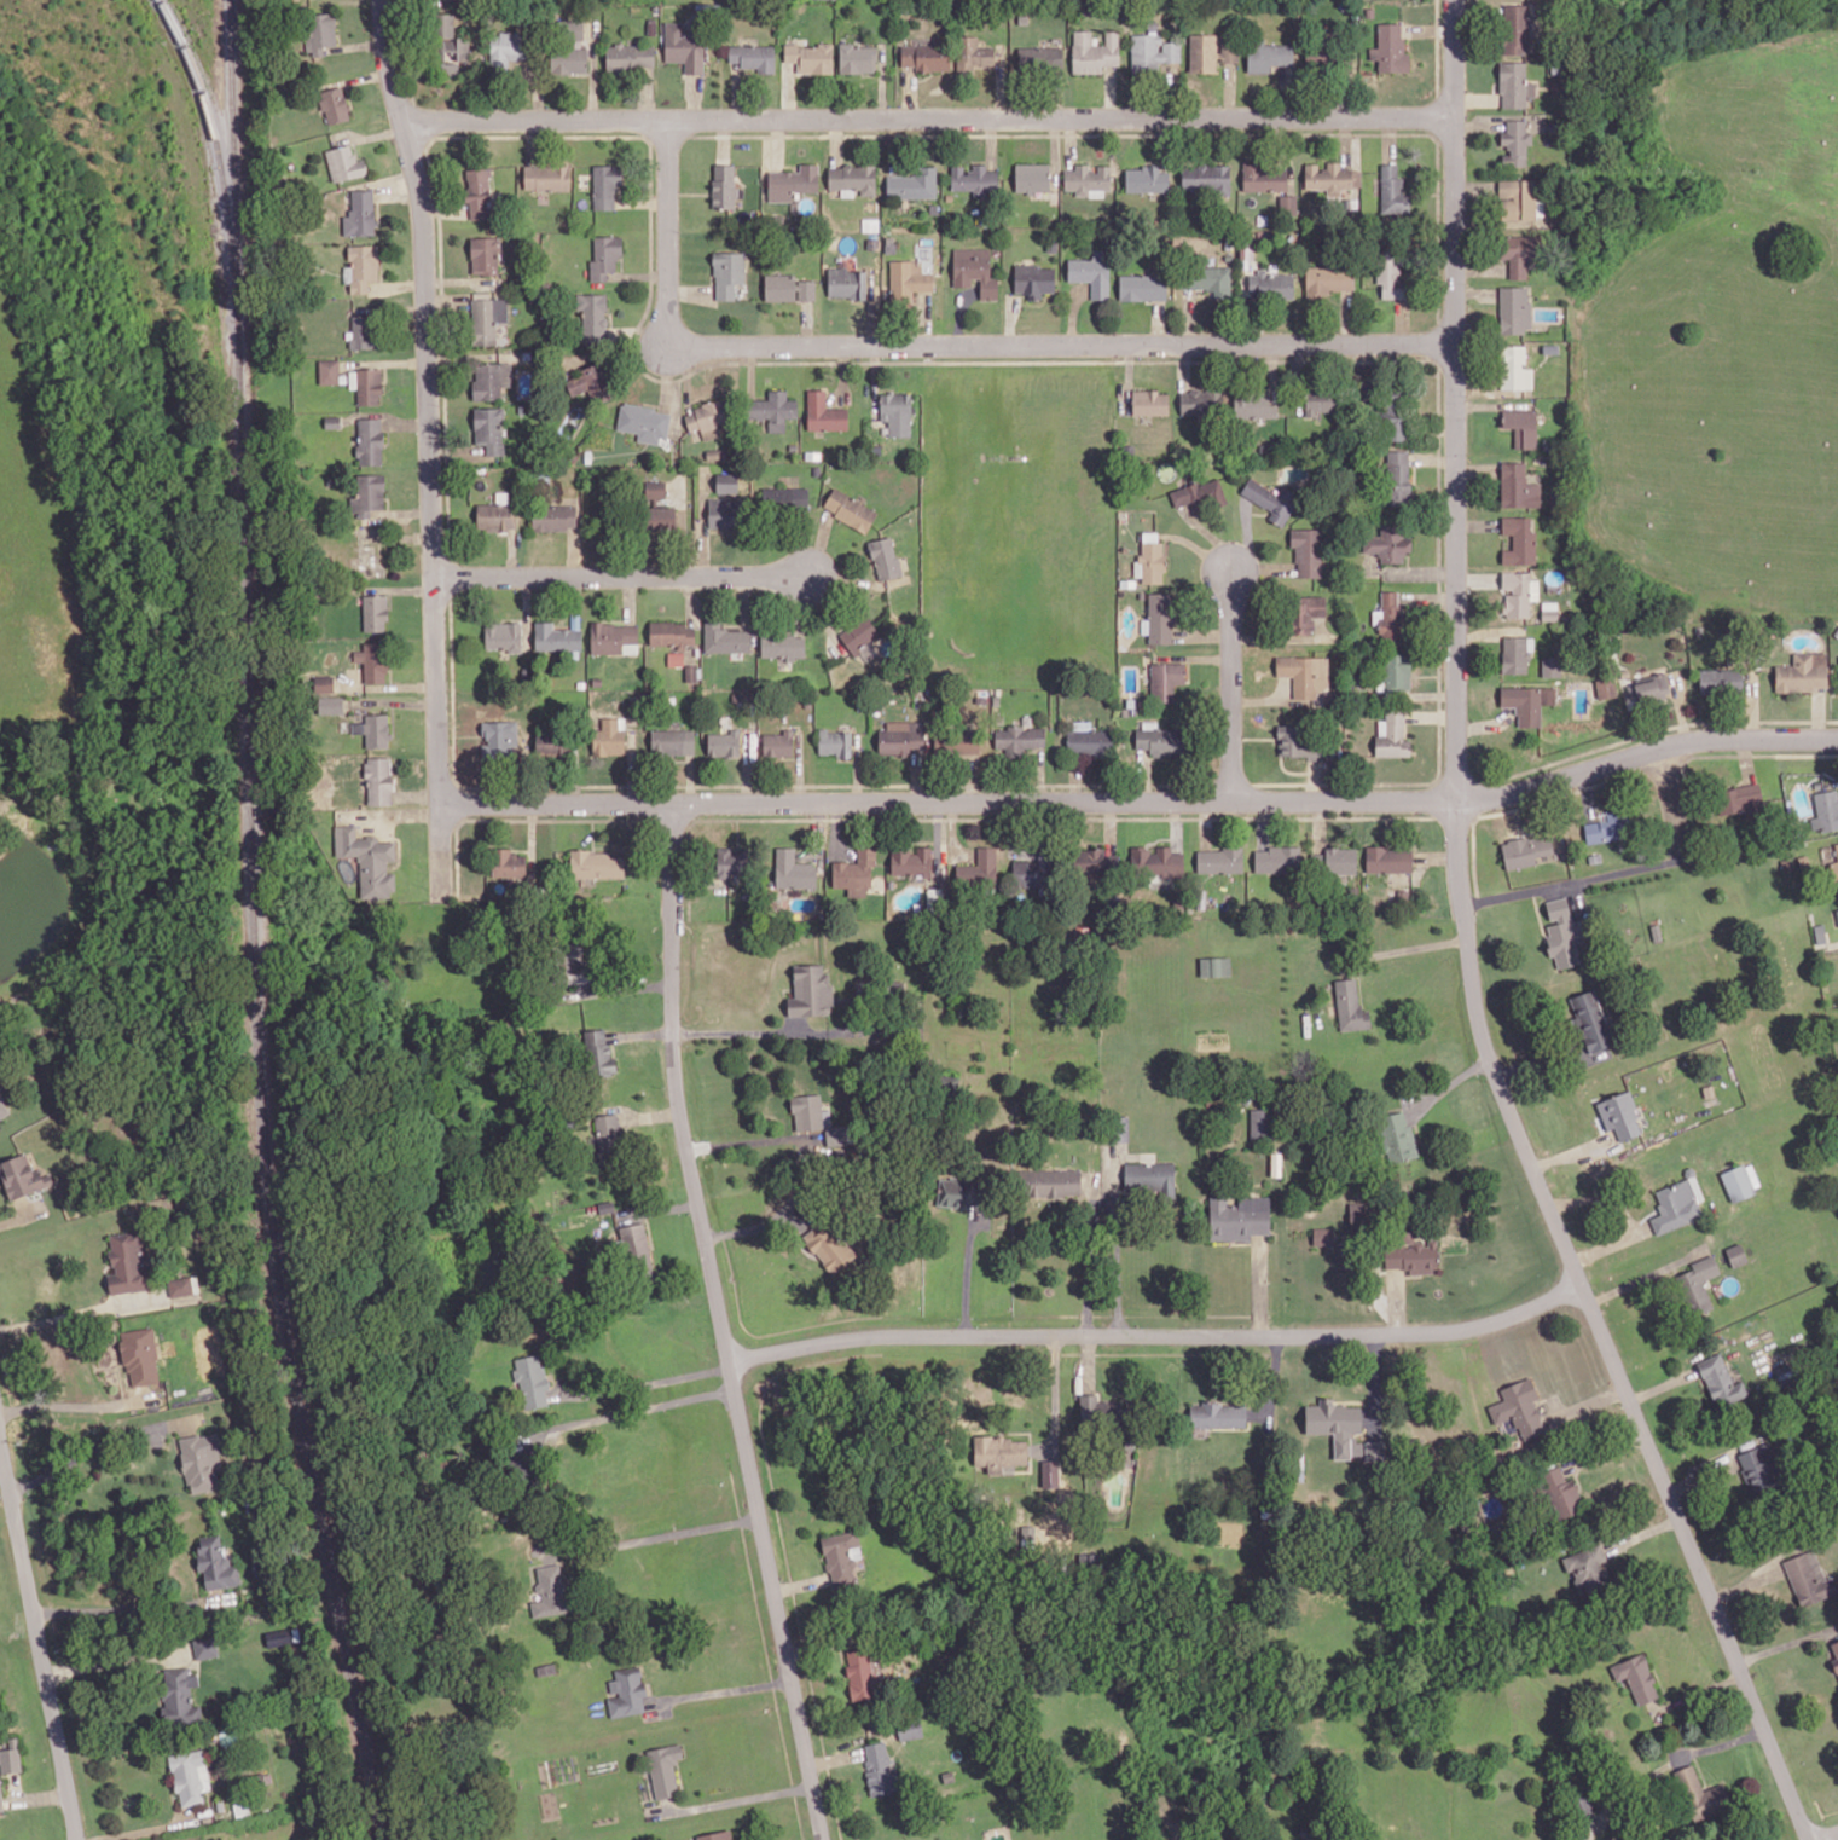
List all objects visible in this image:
building: (1515, 28)
building: (572, 29)
building: (320, 31)
building: (448, 44)
building: (684, 47)
building: (506, 48)
building: (1390, 48)
building: (973, 52)
building: (1094, 52)
building: (1152, 52)
building: (1202, 53)
building: (1229, 53)
building: (630, 57)
building: (754, 57)
building: (810, 57)
building: (926, 57)
building: (1269, 57)
building: (857, 58)
building: (1040, 58)
building: (569, 60)
building: (1514, 85)
building: (334, 105)
road: (928, 118)
building: (1515, 141)
railway: (219, 152)
building: (344, 163)
building: (546, 177)
building: (1032, 177)
building: (1205, 177)
building: (1264, 177)
building: (853, 178)
building: (974, 179)
building: (1147, 179)
building: (1332, 179)
building: (1086, 180)
building: (792, 181)
building: (912, 184)
building: (605, 185)
building: (724, 185)
building: (1393, 190)
building: (477, 192)
building: (1517, 198)
building: (1288, 204)
building: (360, 213)
building: (1519, 253)
building: (485, 255)
building: (604, 256)
building: (361, 267)
building: (974, 270)
building: (1092, 272)
building: (727, 273)
building: (1390, 274)
building: (908, 279)
building: (1033, 279)
building: (1328, 279)
building: (1211, 280)
building: (847, 283)
building: (1271, 285)
building: (1142, 287)
building: (788, 288)
building: (1514, 309)
building: (592, 317)
building: (487, 319)
building: (363, 330)
road: (952, 346)
building: (1514, 368)
building: (329, 371)
building: (491, 380)
building: (591, 383)
building: (366, 384)
building: (1201, 401)
building: (1320, 401)
building: (1150, 403)
building: (1254, 404)
building: (773, 409)
building: (897, 412)
building: (1395, 412)
building: (824, 413)
building: (708, 418)
building: (332, 421)
building: (644, 422)
building: (1521, 427)
building: (489, 429)
building: (370, 440)
road: (429, 447)
building: (1398, 476)
building: (726, 482)
building: (1518, 486)
building: (655, 488)
building: (369, 494)
building: (1199, 496)
building: (784, 498)
building: (1271, 499)
park: (1014, 505)
building: (850, 509)
building: (723, 513)
building: (494, 516)
building: (553, 517)
building: (661, 517)
building: (1519, 540)
building: (1388, 542)
building: (1306, 550)
building: (885, 557)
building: (1150, 559)
road: (621, 577)
building: (1518, 592)
building: (375, 612)
building: (1549, 612)
building: (1304, 613)
building: (1390, 617)
building: (1159, 618)
building: (672, 632)
building: (859, 635)
building: (503, 636)
building: (556, 637)
building: (614, 638)
building: (725, 638)
building: (783, 646)
building: (1515, 653)
building: (674, 658)
building: (372, 661)
building: (1552, 666)
building: (1396, 671)
building: (1803, 672)
building: (1304, 673)
building: (1165, 679)
building: (1721, 679)
building: (324, 683)
road: (1234, 684)
building: (1605, 687)
building: (1651, 688)
building: (1527, 701)
building: (330, 705)
building: (373, 729)
building: (503, 735)
building: (1392, 735)
building: (609, 737)
building: (903, 737)
building: (1019, 739)
building: (672, 741)
building: (1089, 741)
building: (552, 742)
building: (835, 742)
building: (963, 742)
building: (1304, 742)
building: (724, 743)
building: (777, 743)
building: (378, 781)
building: (1739, 800)
road: (1144, 804)
building: (1825, 810)
building: (1606, 827)
building: (1525, 850)
building: (1277, 858)
building: (1219, 860)
building: (1388, 860)
building: (367, 861)
building: (731, 861)
building: (912, 861)
building: (1156, 861)
building: (1317, 861)
building: (1340, 861)
building: (1094, 862)
building: (509, 863)
building: (597, 864)
building: (1834, 867)
building: (979, 869)
building: (794, 870)
road: (1623, 870)
building: (854, 873)
building: (1031, 873)
building: (1837, 913)
railway: (257, 925)
building: (1562, 933)
road: (1409, 947)
building: (574, 950)
road: (1469, 951)
building: (1214, 966)
building: (811, 990)
building: (1350, 1006)
building: (1590, 1022)
road: (738, 1036)
building: (598, 1053)
building: (949, 1086)
building: (4, 1110)
building: (1619, 1115)
building: (817, 1118)
building: (1262, 1122)
building: (1121, 1128)
building: (607, 1133)
building: (1396, 1136)
road: (743, 1140)
building: (22, 1174)
building: (1150, 1178)
building: (1740, 1181)
building: (1049, 1182)
building: (959, 1192)
building: (1677, 1204)
building: (1357, 1213)
road: (21, 1216)
building: (1239, 1217)
building: (1324, 1237)
building: (638, 1243)
building: (828, 1248)
building: (1735, 1254)
building: (1411, 1256)
building: (127, 1262)
road: (1084, 1262)
road: (1113, 1263)
road: (1642, 1274)
road: (967, 1275)
building: (181, 1284)
building: (1695, 1284)
road: (80, 1310)
road: (723, 1324)
road: (1160, 1336)
building: (140, 1353)
road: (121, 1376)
building: (530, 1379)
building: (1720, 1379)
road: (648, 1381)
road: (80, 1404)
building: (1089, 1406)
building: (1518, 1407)
road: (628, 1408)
building: (1217, 1413)
building: (1335, 1424)
road: (102, 1443)
road: (178, 1446)
building: (1374, 1450)
building: (998, 1451)
building: (201, 1458)
building: (1757, 1463)
road: (2, 1466)
building: (1050, 1472)
building: (1559, 1491)
road: (657, 1534)
building: (840, 1557)
building: (215, 1562)
building: (1585, 1564)
building: (1805, 1576)
building: (550, 1590)
road: (132, 1608)
building: (279, 1634)
road: (37, 1636)
building: (205, 1644)
building: (1834, 1653)
road: (116, 1659)
building: (546, 1667)
building: (863, 1672)
building: (1636, 1677)
road: (719, 1690)
building: (626, 1691)
building: (179, 1694)
building: (910, 1730)
building: (11, 1758)
building: (879, 1767)
building: (663, 1769)
building: (189, 1774)
road: (16, 1786)
building: (1699, 1794)
road: (36, 1795)
building: (1, 1796)
road: (735, 1798)
road: (6, 1809)
road: (151, 1828)
building: (715, 1835)
road: (1826, 1835)

